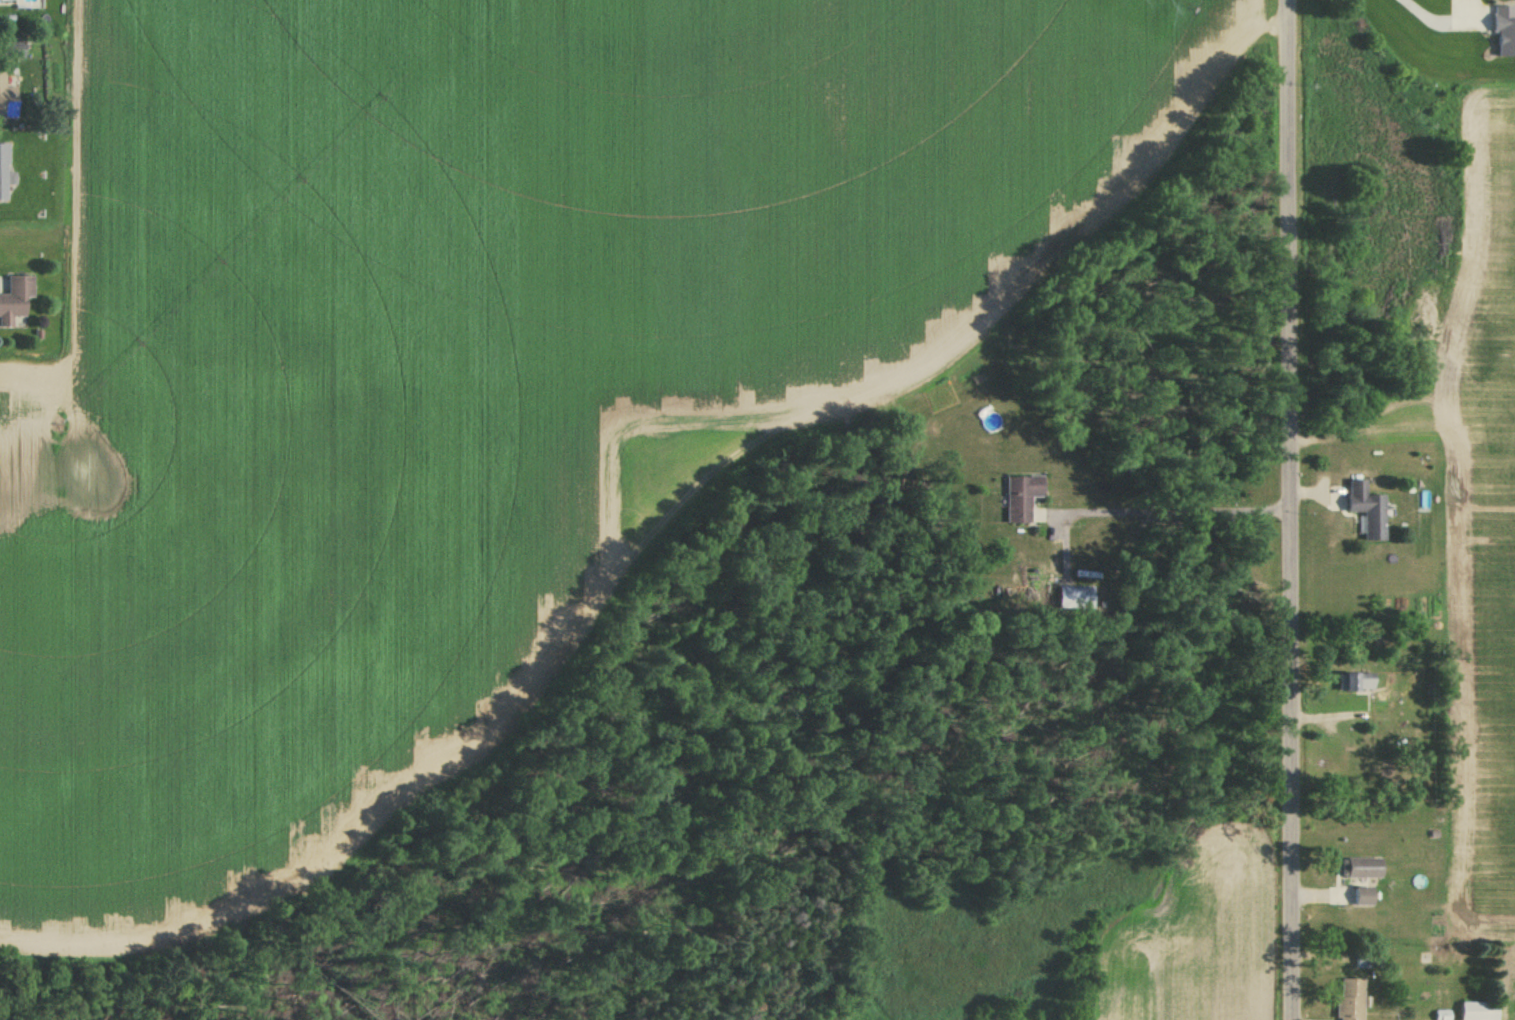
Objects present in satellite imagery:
building: (3, 1)
building: (11, 51)
building: (5, 93)
building: (4, 173)
road: (26, 229)
building: (13, 297)
building: (1020, 497)
road: (1293, 509)
building: (1365, 509)
building: (1354, 682)
building: (1360, 868)
building: (1361, 897)
building: (1368, 960)
building: (1348, 999)
building: (1479, 1011)

